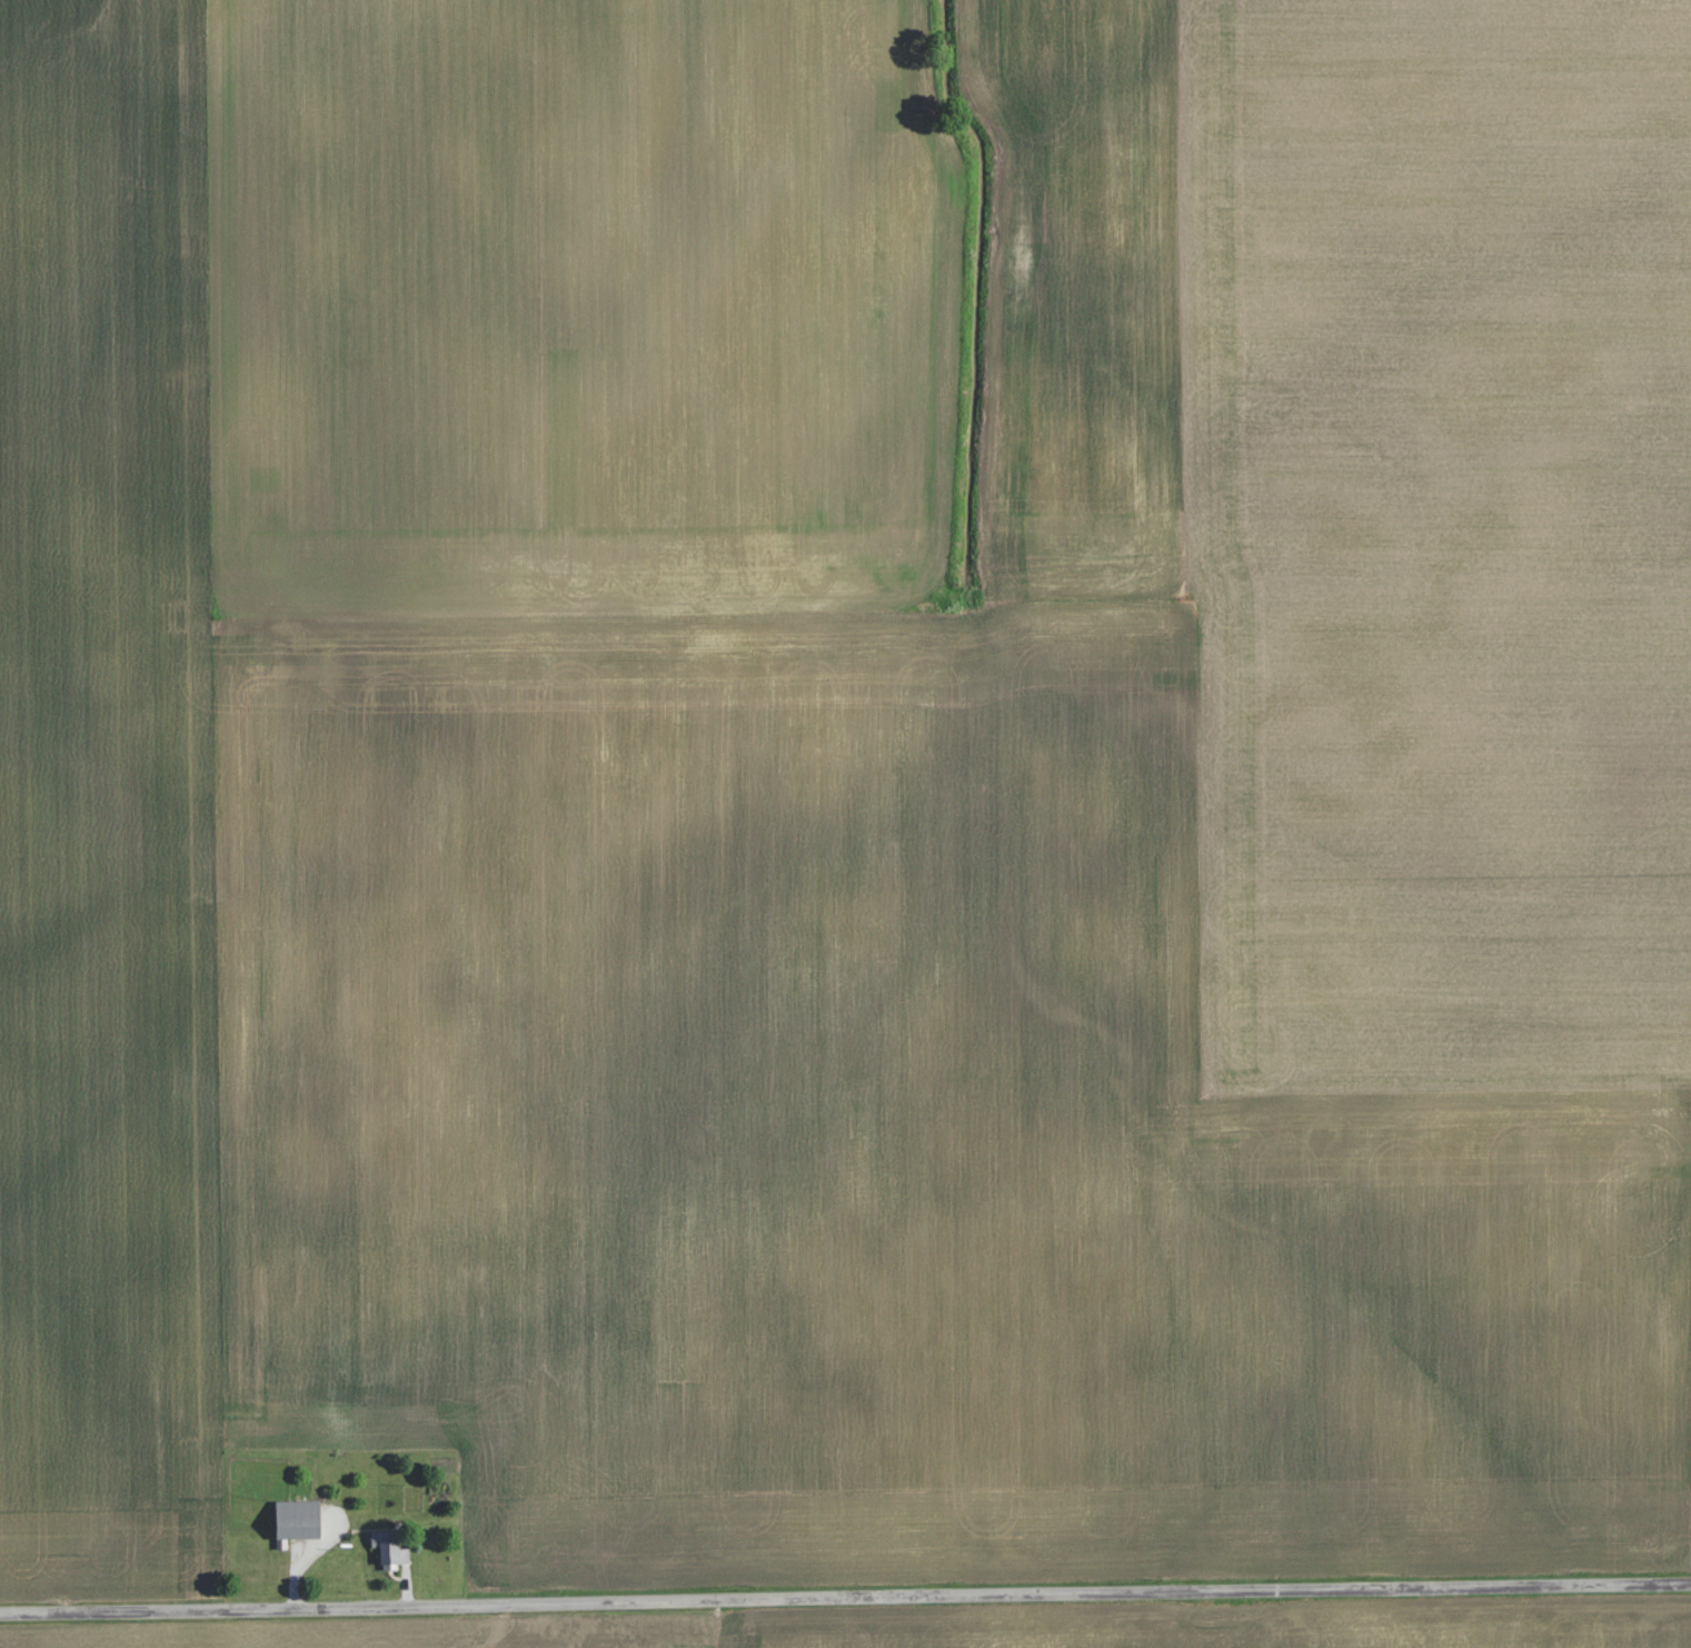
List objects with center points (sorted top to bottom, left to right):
building: (296, 1520)
building: (388, 1549)
road: (845, 1600)

